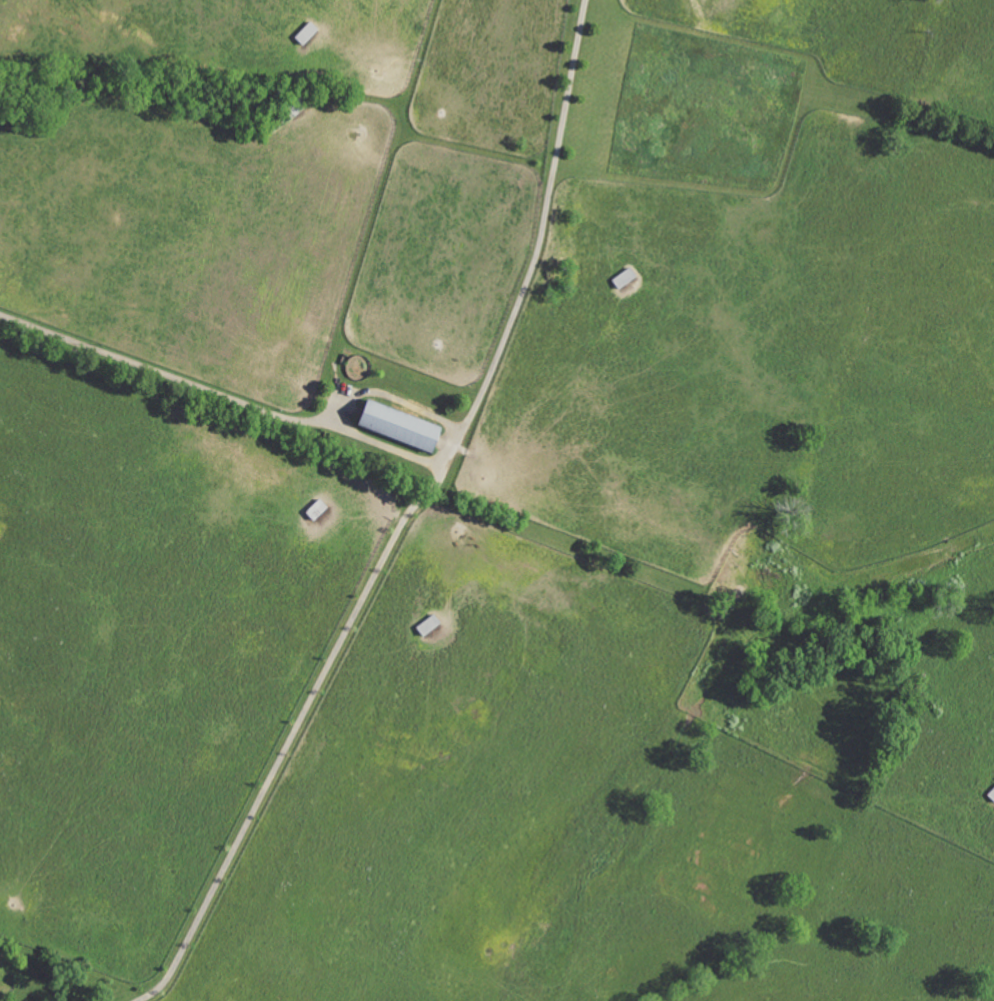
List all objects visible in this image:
building: (303, 34)
building: (620, 278)
road: (220, 395)
building: (391, 424)
building: (312, 509)
road: (407, 518)

